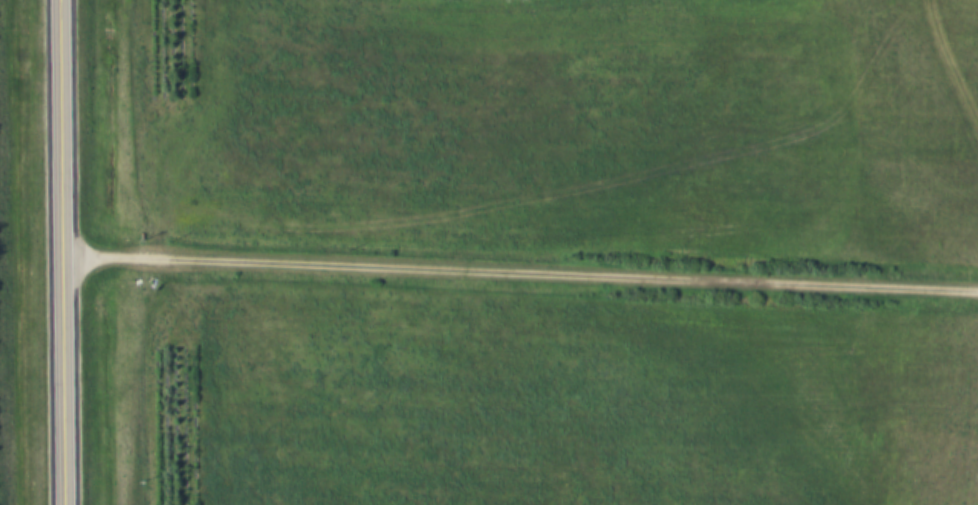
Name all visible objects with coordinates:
road: (58, 252)
road: (518, 267)

